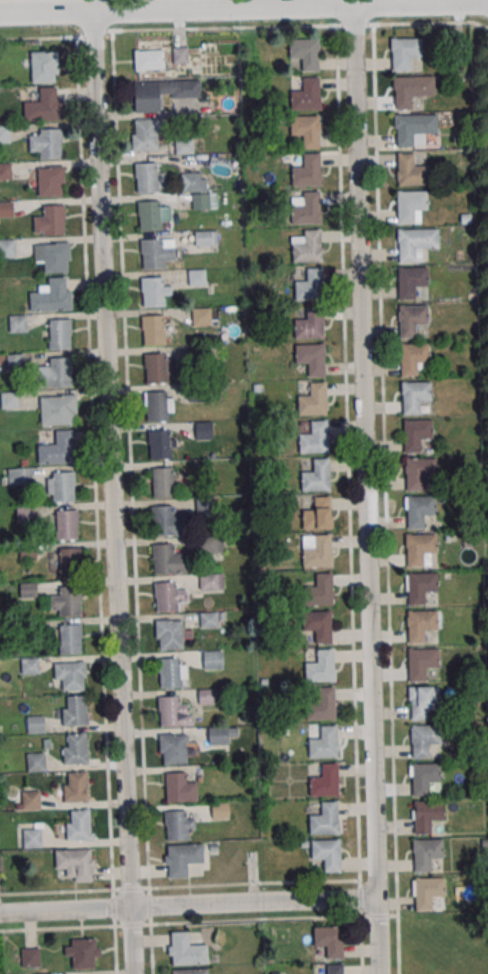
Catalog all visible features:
road: (244, 11)
building: (405, 52)
building: (305, 53)
building: (180, 55)
building: (149, 59)
building: (44, 66)
building: (408, 90)
building: (162, 93)
building: (306, 95)
building: (44, 105)
building: (409, 127)
building: (306, 130)
building: (146, 134)
building: (46, 142)
building: (307, 170)
building: (410, 170)
building: (5, 171)
building: (147, 177)
building: (50, 180)
building: (191, 181)
building: (411, 204)
building: (305, 207)
building: (5, 209)
building: (149, 215)
building: (50, 220)
building: (206, 238)
building: (412, 242)
building: (307, 245)
building: (7, 248)
building: (156, 252)
building: (53, 256)
building: (197, 277)
park: (482, 279)
building: (411, 281)
building: (311, 285)
building: (155, 291)
building: (52, 295)
building: (201, 316)
building: (412, 319)
building: (18, 323)
building: (311, 323)
building: (153, 329)
building: (59, 333)
building: (413, 357)
building: (311, 358)
building: (15, 361)
building: (158, 368)
building: (56, 372)
building: (415, 395)
building: (9, 399)
building: (313, 399)
building: (158, 406)
building: (58, 410)
building: (203, 430)
building: (416, 433)
building: (315, 438)
building: (160, 444)
building: (58, 448)
building: (421, 471)
building: (317, 475)
building: (20, 476)
building: (163, 482)
building: (61, 486)
road: (367, 491)
road: (112, 494)
building: (420, 509)
building: (25, 513)
building: (318, 514)
building: (166, 521)
building: (66, 524)
building: (212, 546)
building: (419, 547)
building: (317, 550)
building: (168, 560)
building: (69, 561)
building: (211, 581)
building: (421, 586)
building: (28, 590)
building: (320, 590)
building: (168, 596)
building: (67, 601)
building: (211, 619)
building: (420, 624)
building: (318, 625)
building: (169, 634)
building: (70, 638)
building: (213, 659)
building: (421, 661)
building: (31, 665)
building: (321, 666)
building: (172, 672)
building: (70, 675)
building: (207, 696)
building: (423, 700)
building: (323, 703)
building: (75, 710)
building: (174, 712)
building: (35, 723)
building: (220, 734)
building: (425, 739)
building: (325, 742)
building: (75, 748)
building: (173, 749)
building: (36, 761)
building: (424, 777)
building: (325, 780)
building: (75, 787)
building: (179, 788)
building: (29, 800)
building: (426, 814)
building: (325, 819)
building: (178, 824)
building: (79, 825)
building: (32, 837)
building: (425, 853)
building: (327, 854)
building: (75, 863)
building: (427, 892)
road: (187, 910)
building: (329, 940)
building: (186, 950)
building: (82, 952)
building: (31, 957)
building: (335, 968)
building: (189, 971)

